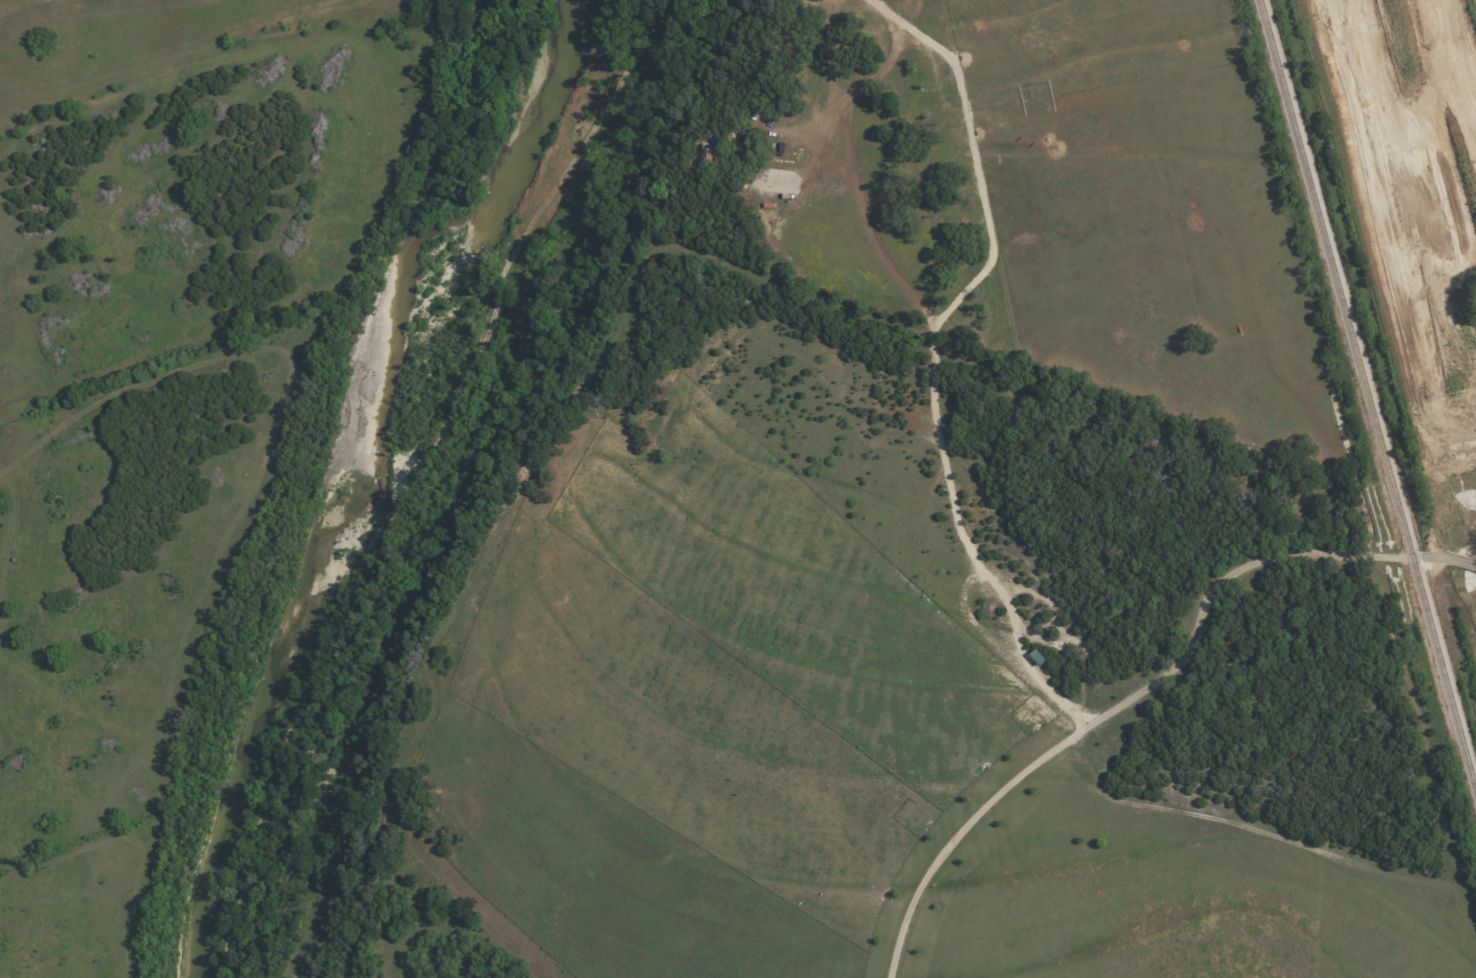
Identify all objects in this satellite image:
railway: (1369, 392)
river: (358, 476)
road: (1450, 561)
road: (1122, 702)

